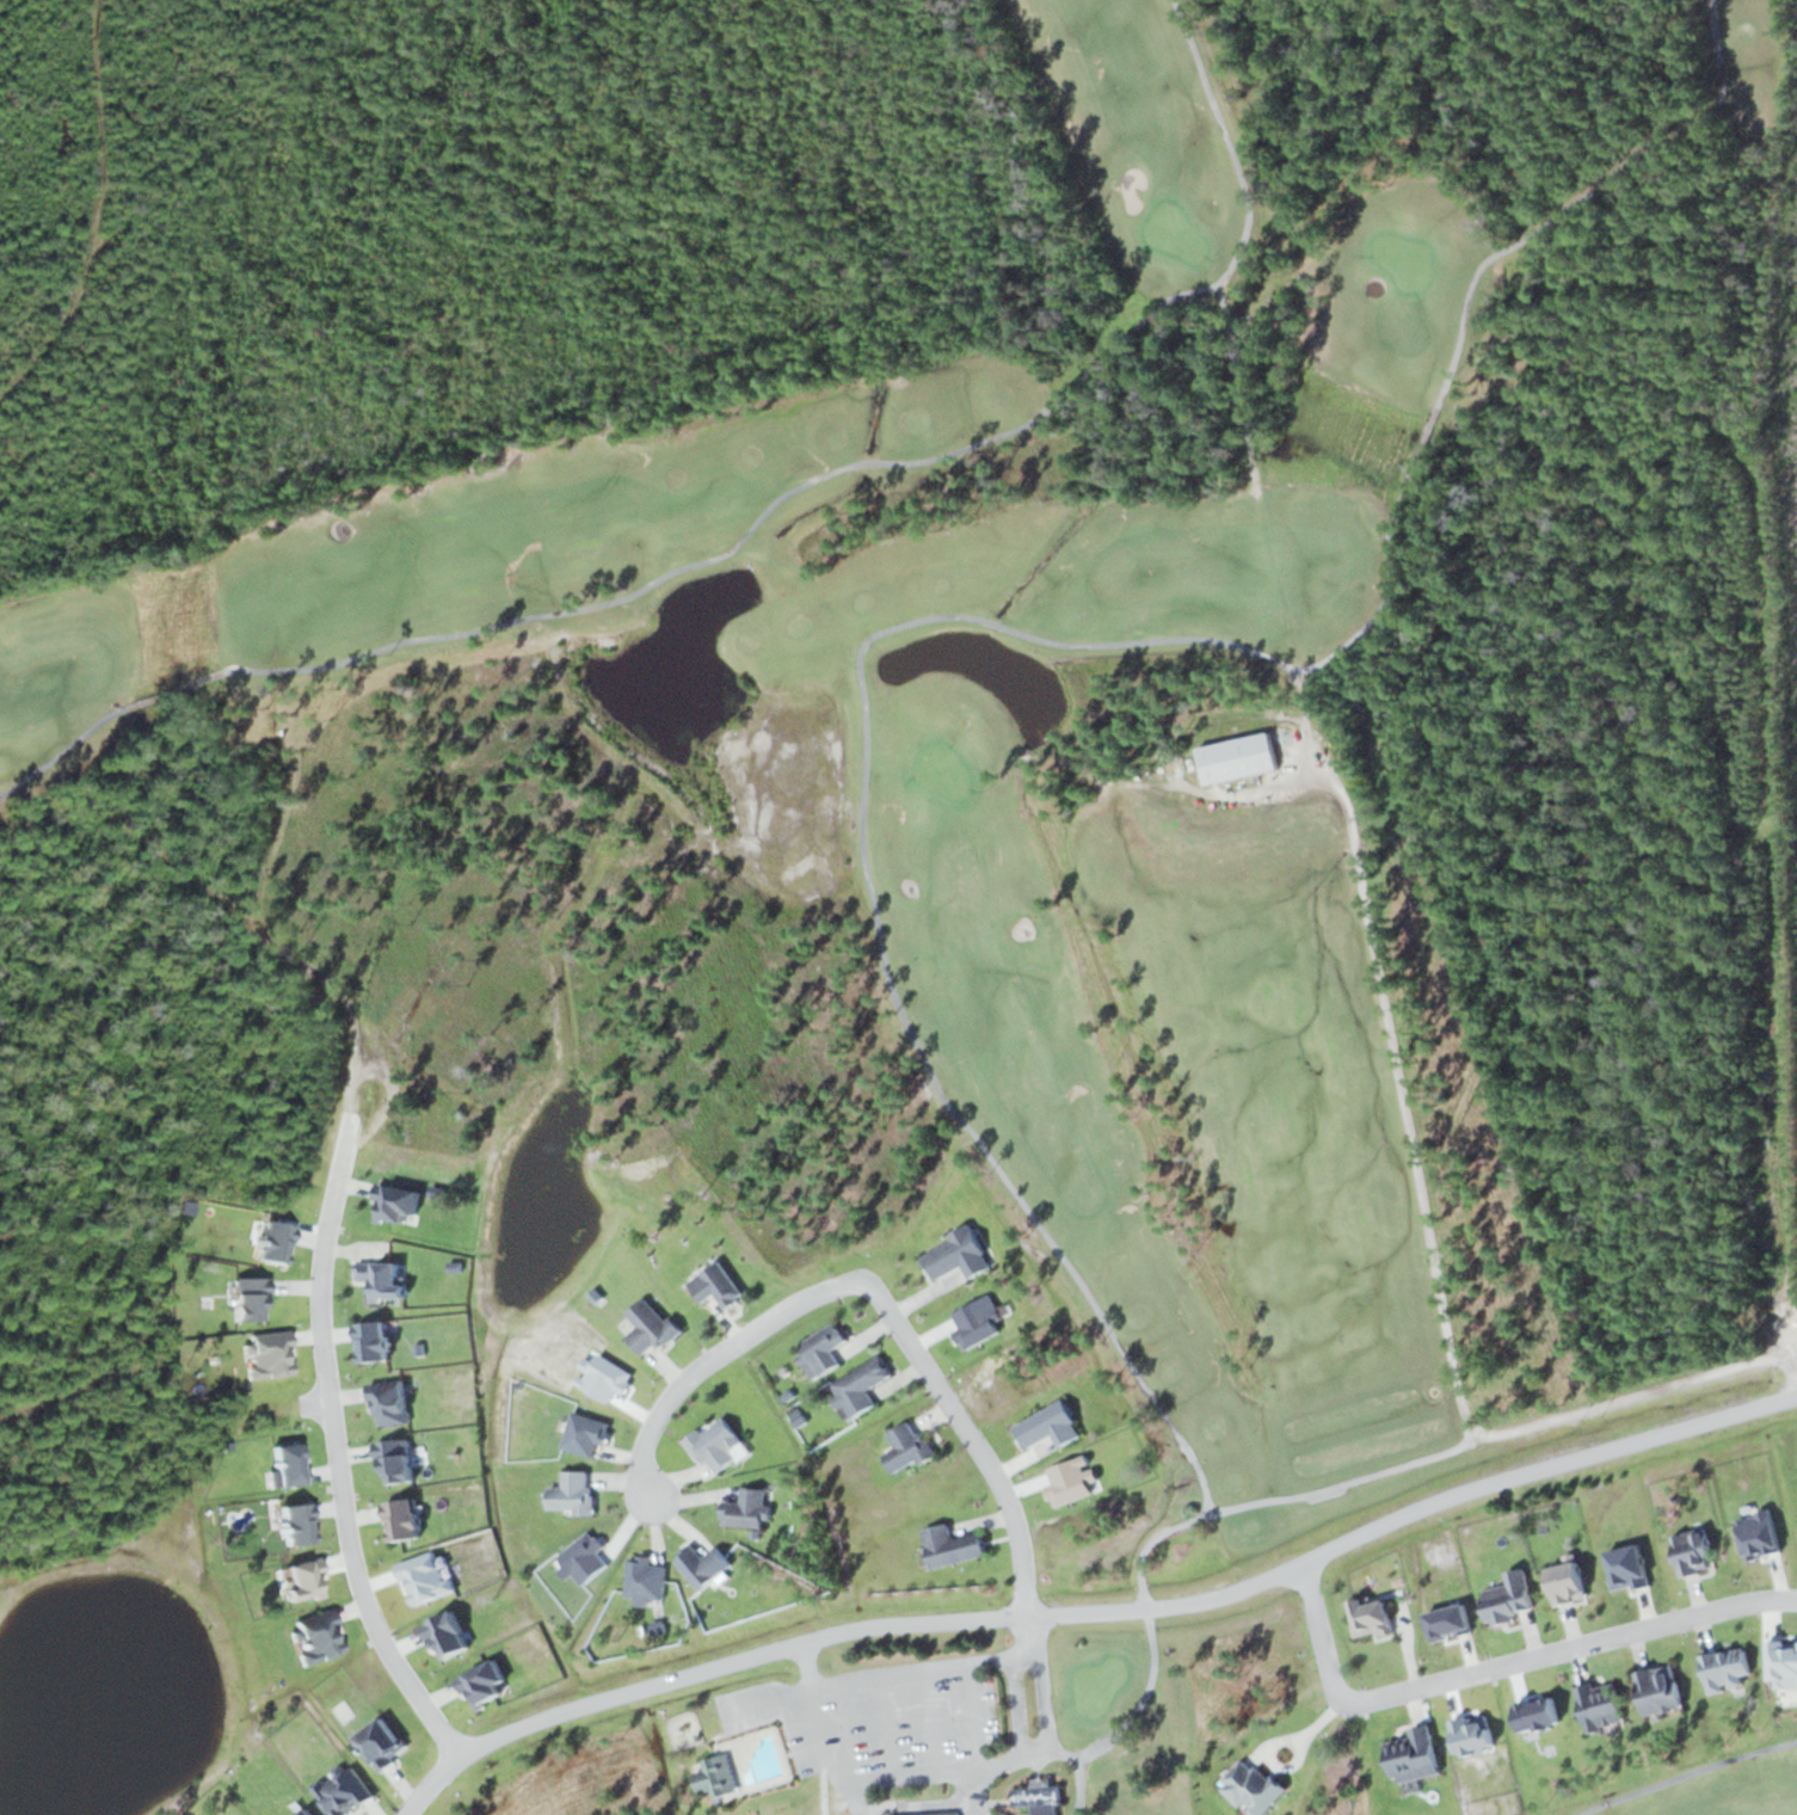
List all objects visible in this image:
building: (1235, 757)
building: (713, 1285)
road: (875, 1294)
building: (647, 1327)
building: (820, 1349)
building: (859, 1385)
building: (1046, 1427)
building: (713, 1444)
building: (904, 1447)
road: (336, 1451)
building: (571, 1493)
building: (743, 1508)
building: (948, 1545)
building: (1691, 1551)
building: (1506, 1598)
road: (1093, 1613)
building: (1368, 1617)
road: (1496, 1667)
building: (1723, 1668)
building: (1656, 1690)
building: (1598, 1704)
building: (1410, 1755)
building: (713, 1776)
building: (1036, 1798)
building: (925, 1814)

